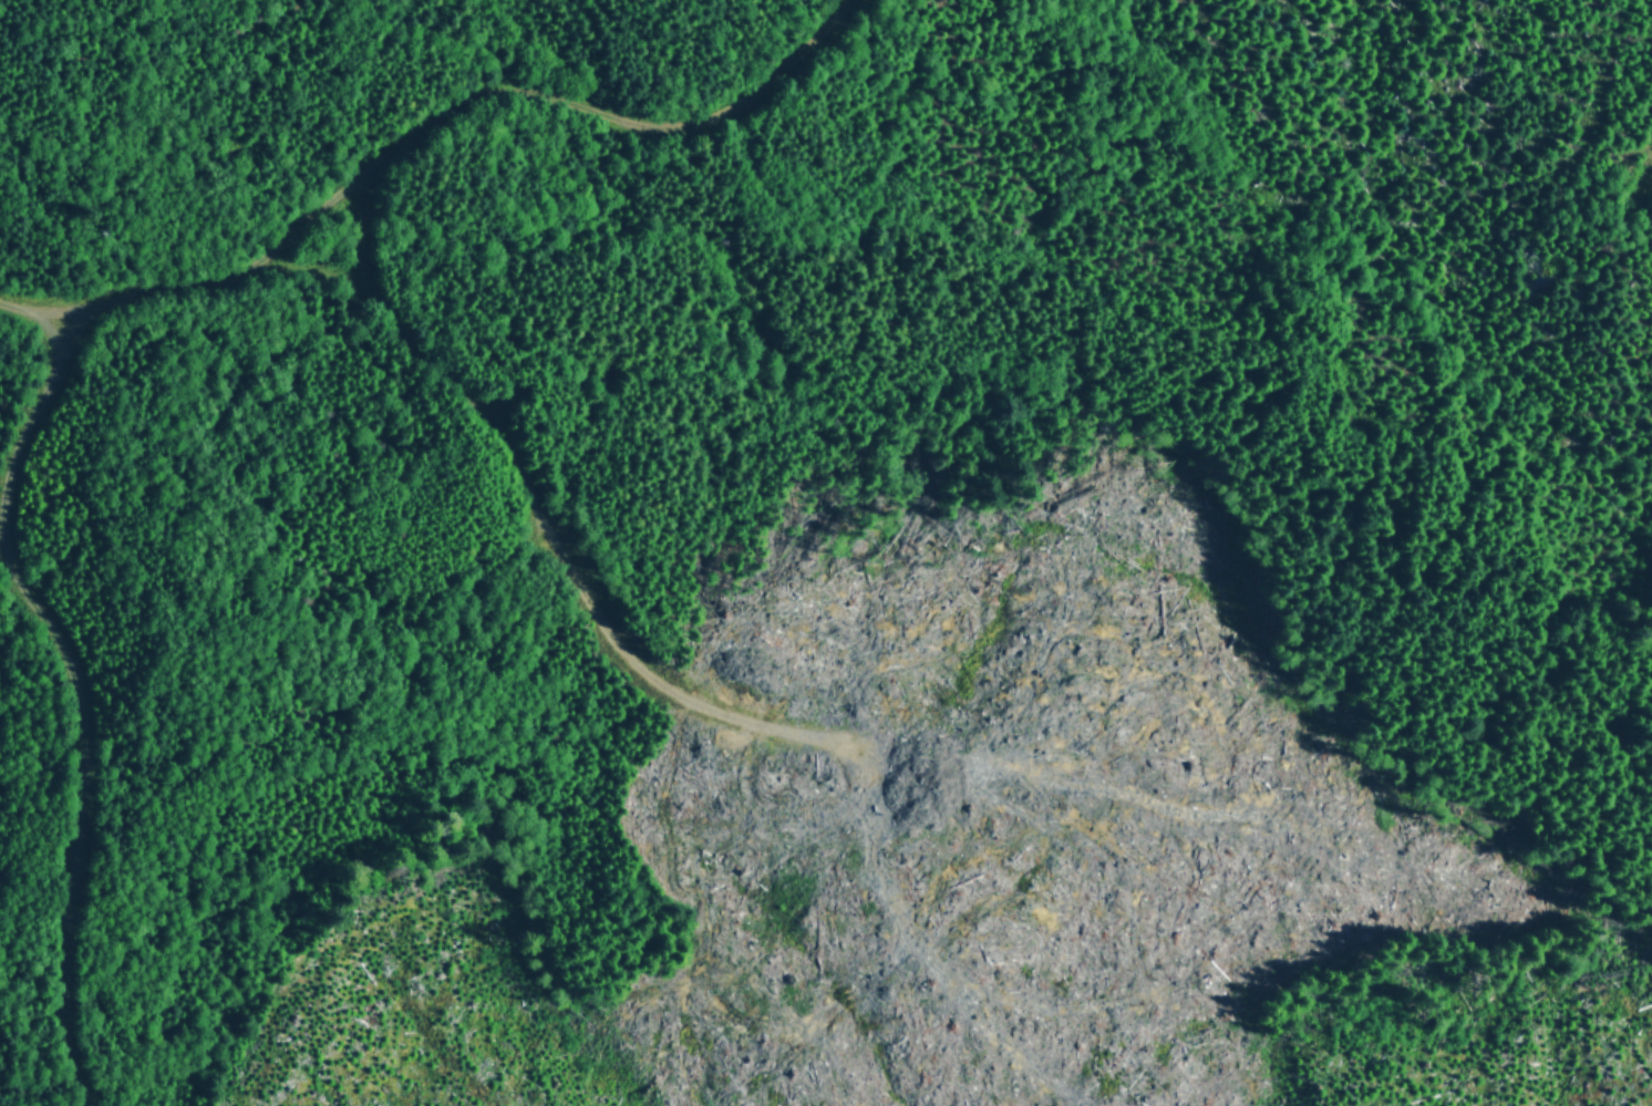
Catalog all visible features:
road: (427, 133)
road: (1640, 180)
road: (86, 693)

